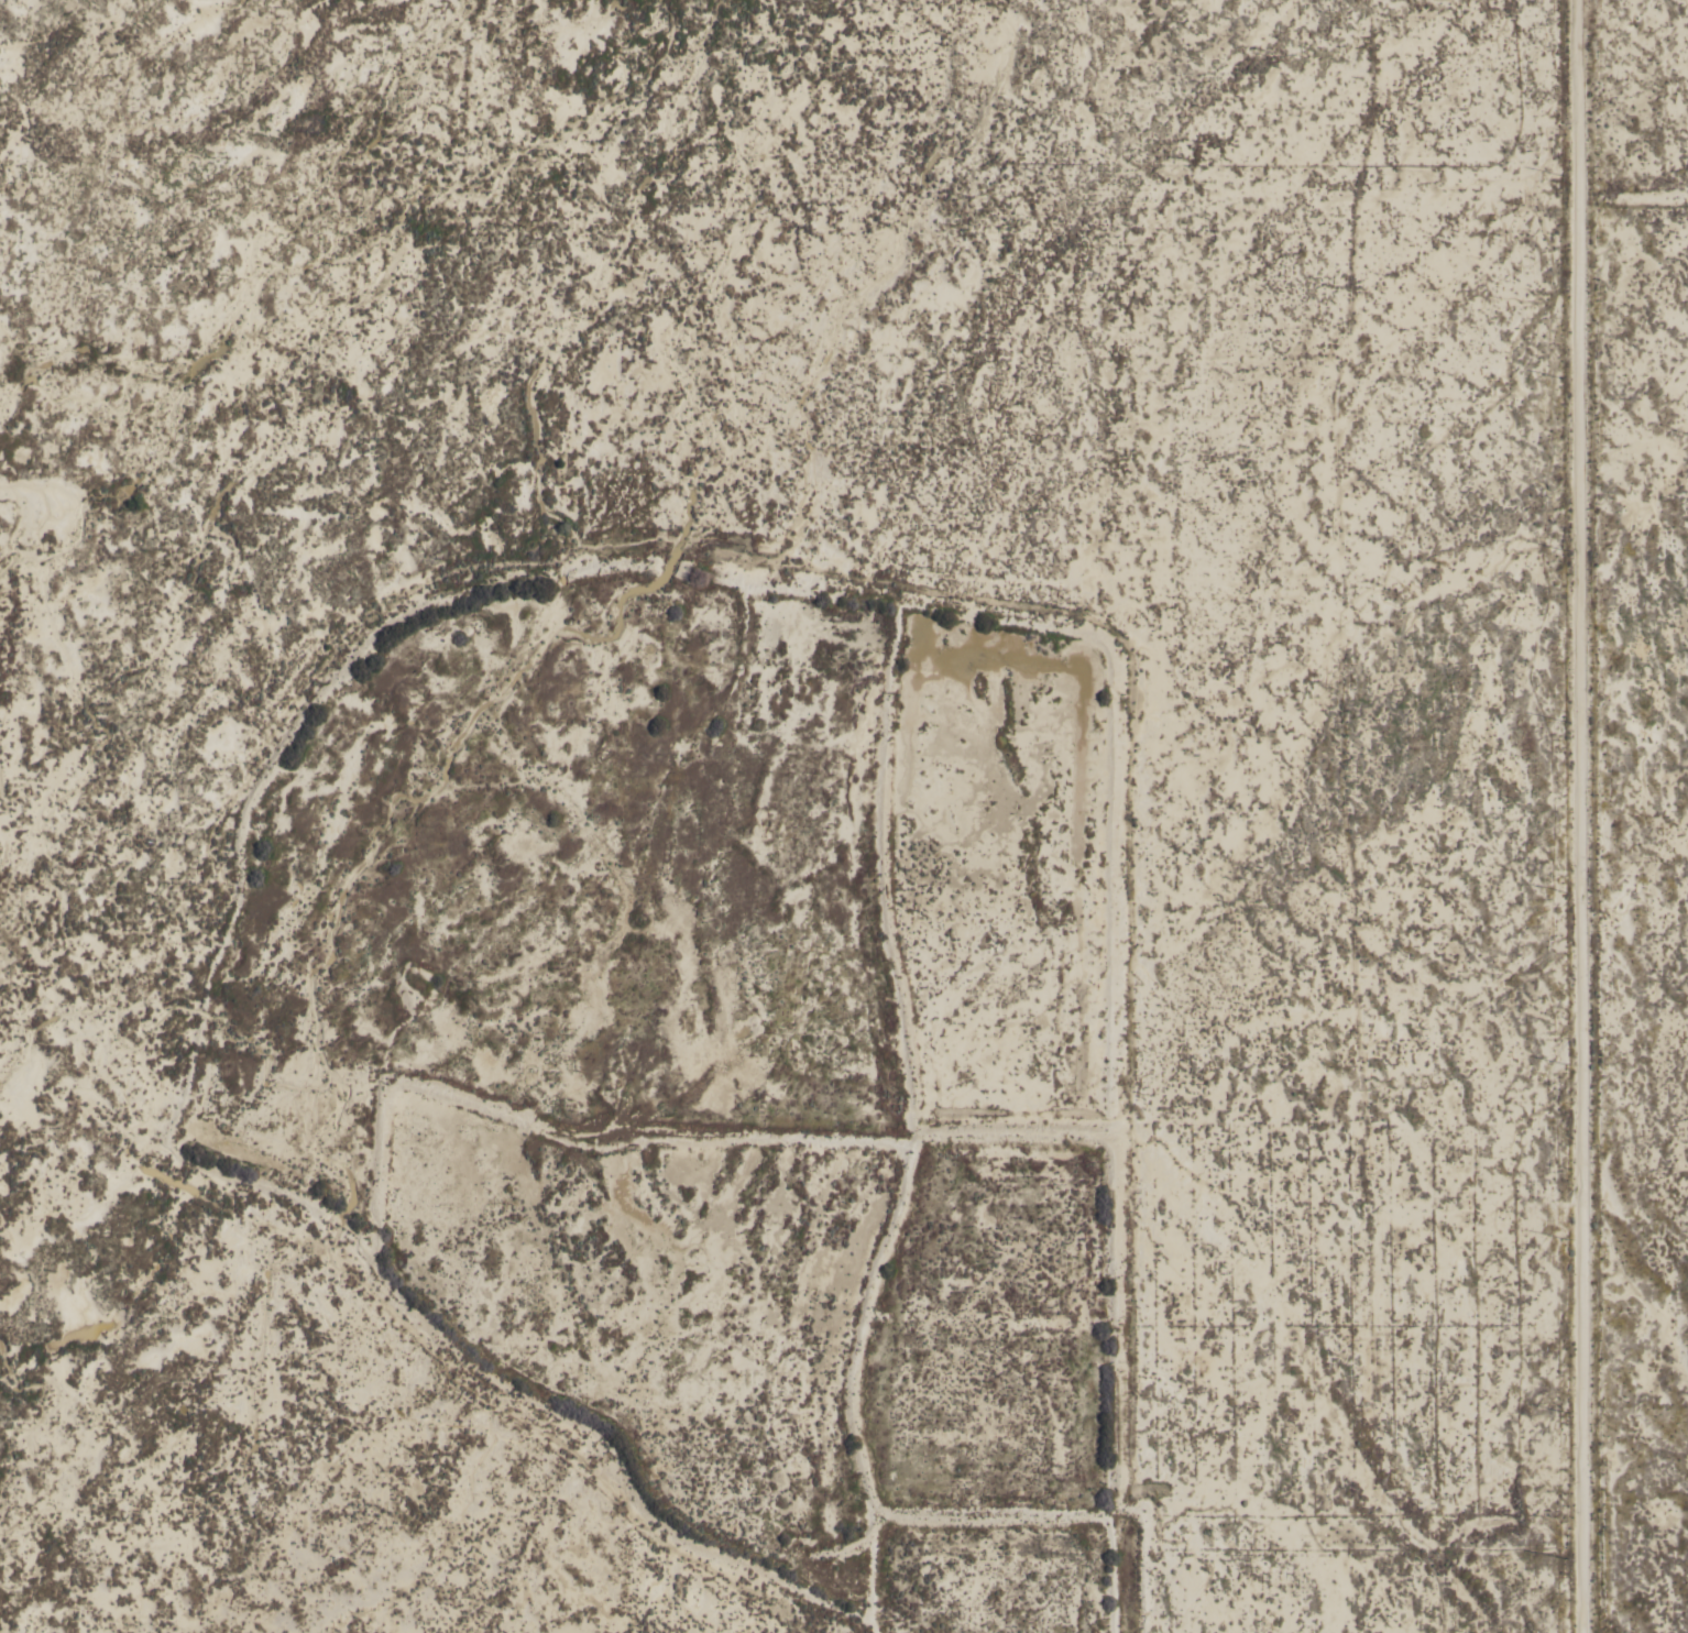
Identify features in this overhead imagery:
road: (1585, 816)

